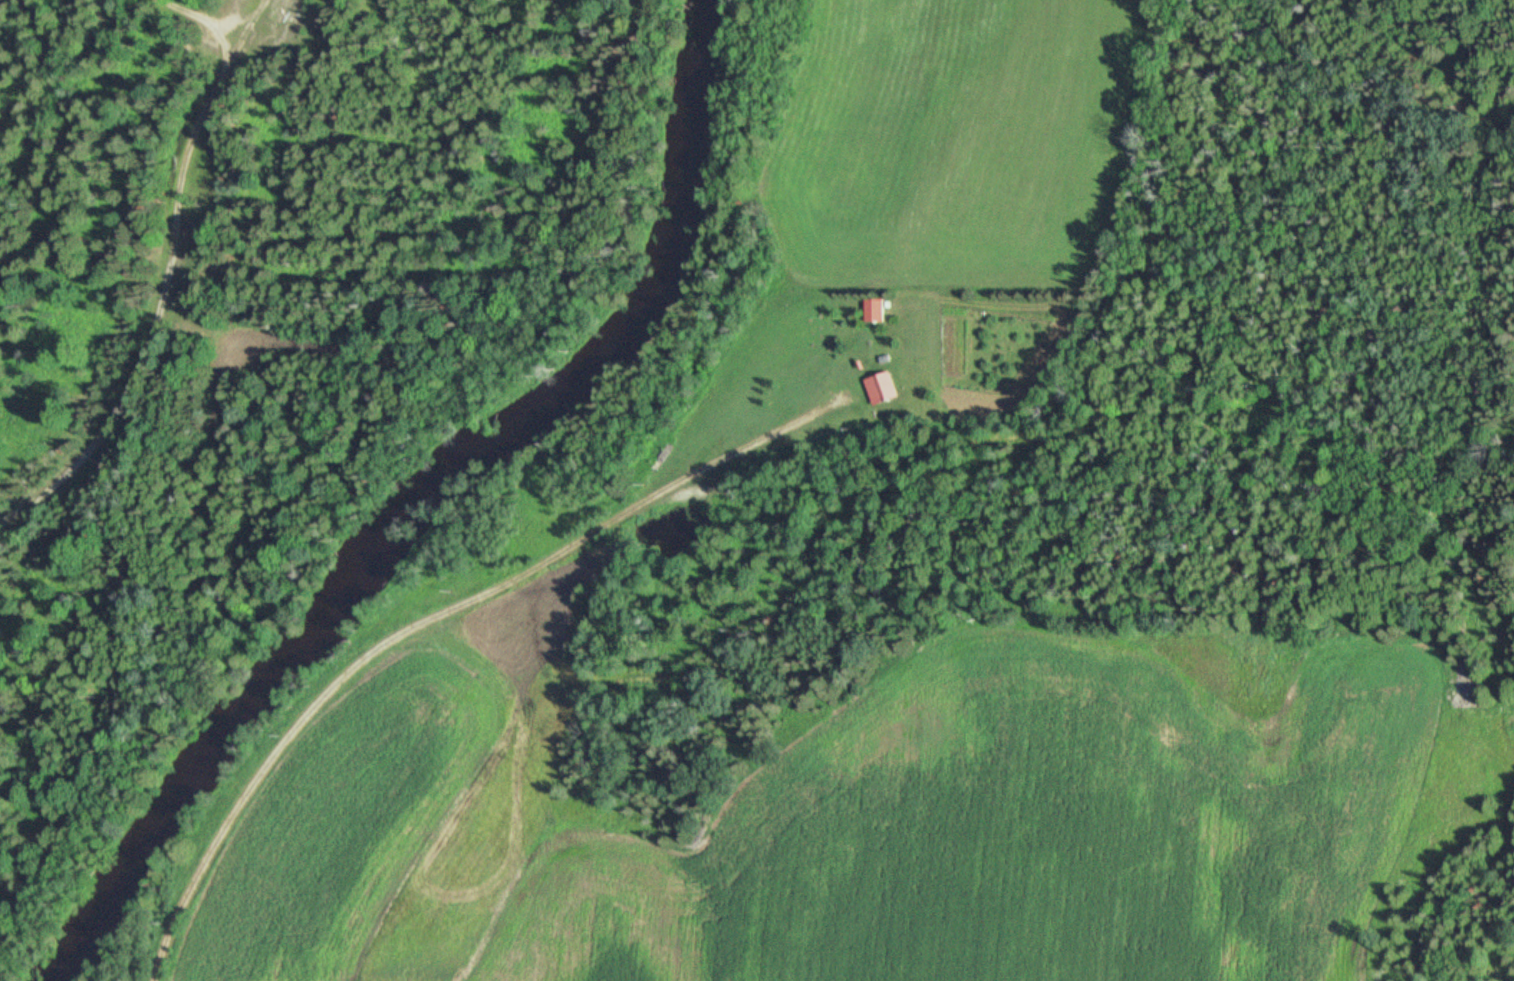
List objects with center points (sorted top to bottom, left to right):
road: (197, 23)
road: (172, 288)
building: (875, 311)
building: (882, 389)
river: (442, 503)
road: (430, 618)

